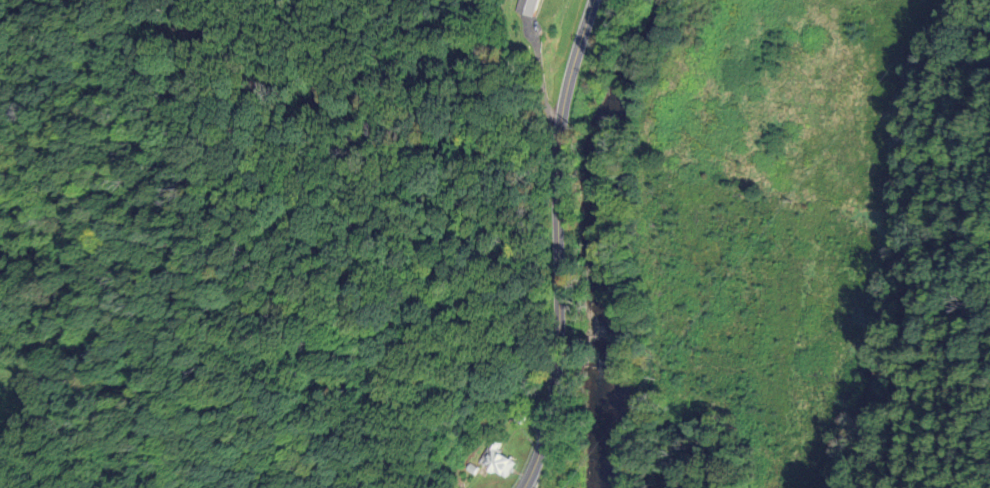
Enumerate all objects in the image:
building: (523, 8)
river: (604, 235)
road: (552, 243)
building: (512, 418)
building: (493, 465)

